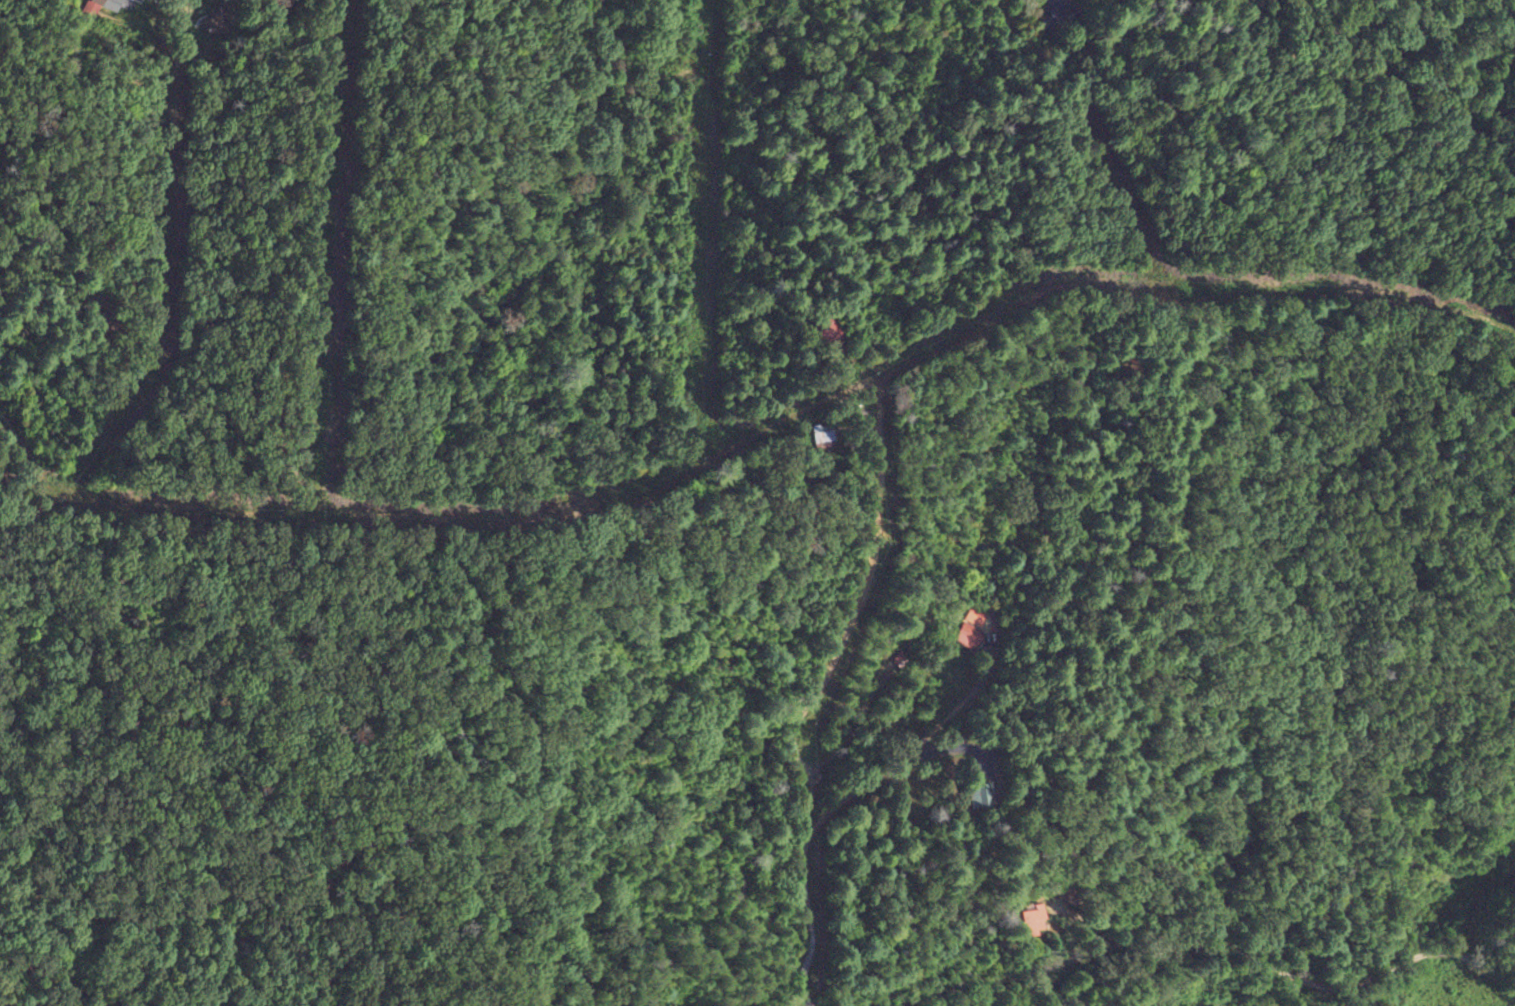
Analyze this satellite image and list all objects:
road: (1339, 72)
road: (888, 373)
building: (970, 629)
building: (981, 794)
building: (1035, 918)
road: (1217, 941)

